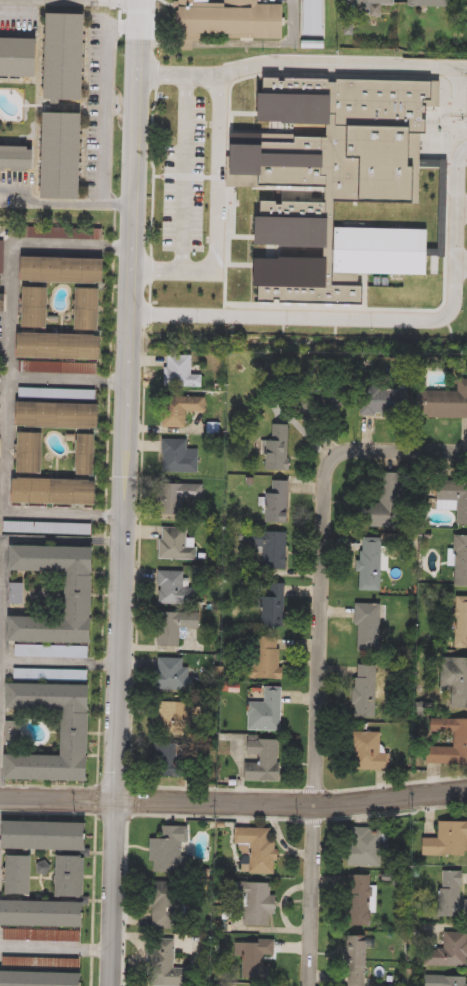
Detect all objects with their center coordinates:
road: (123, 0)
building: (373, 2)
building: (432, 3)
road: (154, 5)
road: (138, 8)
building: (238, 20)
building: (22, 57)
building: (70, 57)
road: (326, 64)
road: (460, 150)
building: (445, 155)
building: (68, 156)
building: (20, 158)
road: (184, 170)
building: (338, 180)
road: (220, 188)
parking lot: (184, 189)
road: (67, 203)
road: (461, 206)
parking lot: (466, 219)
building: (66, 234)
parking lot: (66, 234)
building: (2, 249)
parking lot: (2, 249)
road: (461, 261)
building: (68, 270)
parking lot: (466, 274)
building: (41, 308)
building: (94, 309)
road: (414, 315)
building: (65, 346)
building: (184, 371)
road: (109, 393)
building: (387, 402)
building: (343, 403)
building: (444, 403)
building: (183, 409)
building: (63, 415)
building: (321, 419)
road: (9, 443)
road: (396, 447)
building: (280, 449)
building: (36, 453)
building: (92, 455)
building: (181, 456)
road: (141, 474)
building: (60, 491)
road: (128, 493)
building: (183, 496)
building: (455, 498)
building: (0, 499)
parking lot: (0, 499)
building: (280, 501)
building: (385, 501)
building: (50, 528)
parking lot: (50, 528)
building: (178, 543)
building: (271, 549)
building: (0, 556)
building: (461, 560)
building: (372, 562)
building: (175, 588)
building: (20, 593)
building: (86, 594)
road: (3, 600)
building: (274, 605)
building: (460, 622)
building: (177, 625)
building: (370, 627)
building: (267, 658)
building: (176, 676)
building: (458, 683)
road: (0, 684)
building: (366, 690)
building: (269, 712)
building: (175, 718)
road: (318, 723)
building: (17, 732)
building: (82, 732)
building: (461, 741)
building: (372, 753)
building: (266, 760)
building: (171, 761)
road: (396, 781)
road: (312, 788)
road: (141, 795)
road: (98, 799)
road: (233, 799)
road: (396, 809)
road: (131, 815)
road: (313, 818)
building: (50, 836)
building: (449, 841)
building: (369, 847)
building: (260, 848)
building: (174, 850)
building: (24, 876)
building: (77, 877)
building: (455, 895)
road: (95, 900)
building: (361, 901)
building: (169, 904)
building: (260, 904)
building: (49, 915)
road: (56, 947)
building: (447, 951)
building: (258, 958)
building: (358, 959)
building: (168, 964)
building: (47, 979)
building: (448, 981)

